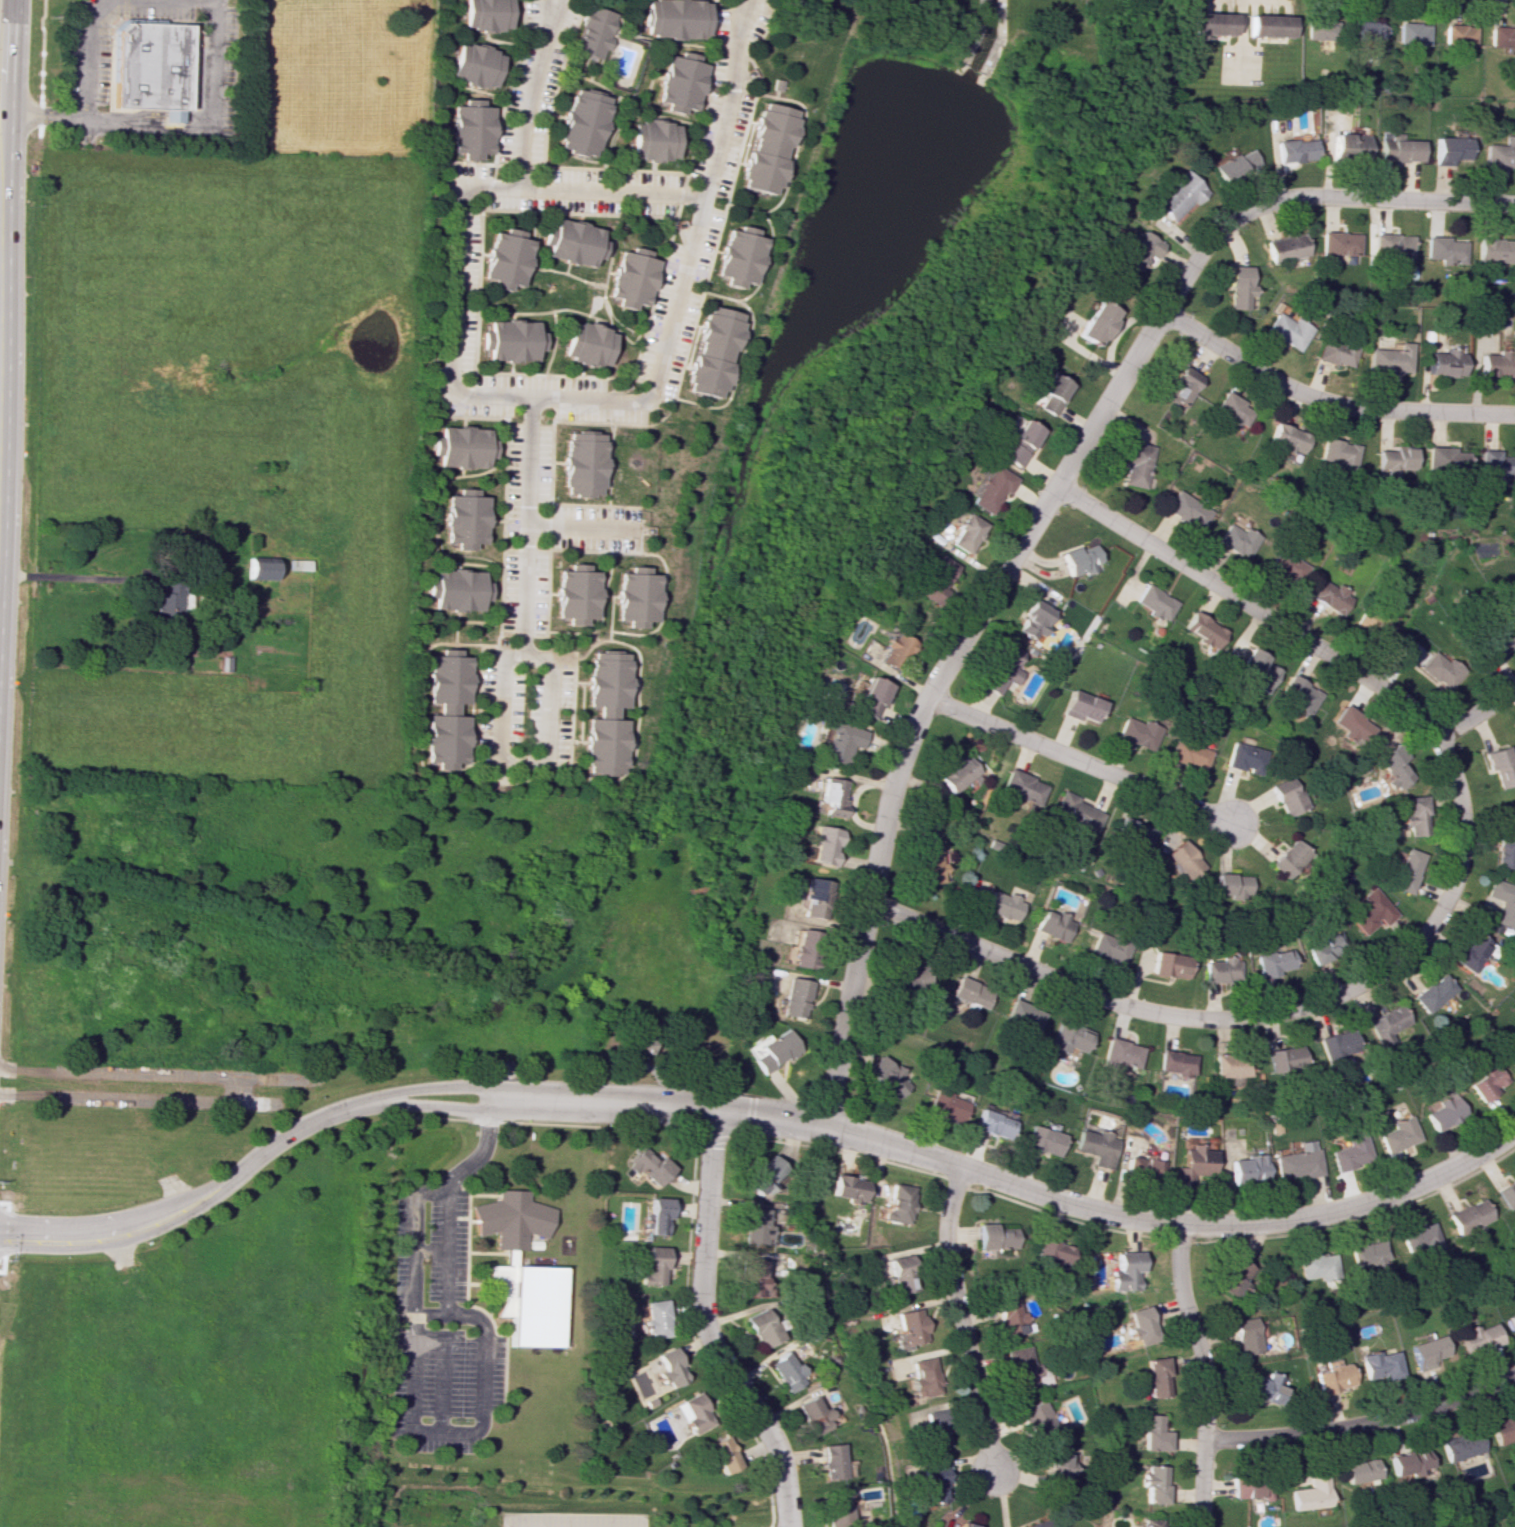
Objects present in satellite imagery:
road: (551, 3)
road: (744, 4)
parking lot: (159, 9)
building: (483, 13)
building: (672, 18)
parking lot: (228, 25)
building: (1209, 28)
building: (1267, 29)
building: (1318, 32)
building: (588, 33)
building: (1366, 35)
building: (998, 36)
building: (1415, 37)
building: (1458, 37)
building: (1500, 39)
parking lot: (88, 54)
building: (472, 65)
building: (150, 67)
road: (40, 69)
parking lot: (227, 70)
parking lot: (532, 78)
building: (678, 83)
dam: (978, 83)
road: (530, 92)
road: (729, 97)
parking lot: (225, 112)
road: (42, 118)
building: (577, 123)
road: (1, 124)
road: (149, 128)
building: (468, 131)
building: (650, 140)
building: (1342, 143)
building: (765, 148)
building: (1288, 148)
building: (1395, 149)
building: (1447, 150)
building: (1500, 154)
road: (2, 161)
building: (1234, 165)
parking lot: (701, 199)
road: (1388, 199)
building: (1173, 201)
building: (571, 241)
building: (1335, 245)
building: (1389, 245)
building: (1440, 246)
building: (1490, 246)
building: (1280, 249)
building: (1134, 253)
building: (737, 256)
building: (503, 259)
building: (630, 279)
building: (1237, 287)
building: (1092, 324)
building: (1284, 331)
building: (508, 340)
building: (584, 345)
building: (711, 352)
building: (1331, 352)
building: (1379, 360)
building: (1438, 363)
building: (1493, 365)
road: (451, 368)
building: (1178, 389)
building: (1051, 398)
road: (1327, 403)
building: (1228, 411)
building: (1015, 440)
building: (1284, 440)
parking lot: (526, 443)
building: (460, 447)
building: (1335, 452)
building: (1445, 455)
building: (1389, 456)
building: (1494, 462)
building: (579, 463)
building: (1138, 464)
building: (991, 488)
building: (1186, 509)
building: (461, 519)
road: (575, 526)
building: (965, 532)
building: (1236, 540)
building: (1081, 559)
building: (298, 564)
building: (259, 568)
building: (1290, 571)
building: (935, 575)
building: (454, 591)
building: (570, 593)
building: (629, 594)
building: (1330, 596)
building: (1154, 602)
building: (167, 607)
building: (1513, 609)
building: (1034, 619)
building: (1376, 621)
building: (1202, 629)
road: (968, 630)
building: (1494, 645)
building: (884, 648)
road: (540, 658)
road: (1343, 662)
building: (1003, 668)
building: (1257, 671)
building: (1441, 671)
building: (1297, 694)
building: (866, 696)
building: (1082, 706)
parking lot: (523, 709)
building: (443, 710)
building: (601, 712)
road: (1475, 714)
building: (1351, 724)
building: (1138, 732)
building: (842, 740)
building: (1187, 753)
building: (1244, 758)
road: (1080, 763)
building: (1500, 766)
building: (1391, 768)
building: (956, 773)
building: (1022, 787)
building: (1286, 796)
building: (830, 797)
building: (1076, 813)
building: (1415, 815)
building: (1128, 830)
building: (821, 845)
building: (1506, 847)
building: (1289, 858)
building: (1183, 859)
building: (931, 865)
building: (1407, 871)
building: (1230, 885)
building: (809, 895)
building: (1503, 902)
building: (1002, 905)
building: (1371, 911)
building: (1324, 947)
building: (800, 948)
building: (1111, 949)
building: (1471, 952)
building: (1274, 962)
building: (1170, 965)
building: (1221, 969)
road: (1030, 970)
building: (910, 977)
building: (970, 992)
building: (1433, 993)
building: (794, 998)
road: (1319, 1004)
building: (1022, 1016)
building: (1387, 1022)
building: (1068, 1037)
building: (1337, 1045)
building: (753, 1049)
building: (774, 1050)
building: (1120, 1053)
building: (1512, 1058)
building: (1285, 1059)
building: (1175, 1062)
building: (1230, 1065)
building: (886, 1077)
building: (1487, 1082)
road: (542, 1094)
building: (946, 1105)
road: (542, 1110)
building: (1444, 1111)
building: (992, 1124)
building: (1399, 1134)
building: (1042, 1140)
road: (484, 1145)
building: (1095, 1147)
building: (1349, 1155)
building: (1194, 1162)
building: (1298, 1162)
road: (946, 1164)
building: (648, 1166)
building: (1143, 1166)
building: (1247, 1168)
building: (765, 1173)
building: (847, 1188)
road: (194, 1191)
building: (1507, 1194)
road: (429, 1195)
road: (1355, 1207)
building: (657, 1216)
building: (1469, 1216)
building: (755, 1226)
building: (994, 1237)
building: (1420, 1239)
building: (1051, 1252)
building: (1369, 1253)
building: (654, 1266)
building: (1318, 1266)
building: (520, 1270)
building: (1125, 1271)
building: (750, 1277)
building: (1233, 1277)
road: (410, 1312)
road: (459, 1315)
building: (1009, 1315)
building: (656, 1318)
road: (959, 1318)
building: (1511, 1321)
building: (1140, 1325)
parking lot: (437, 1327)
road: (704, 1328)
building: (762, 1328)
building: (909, 1328)
road: (426, 1332)
building: (1245, 1336)
building: (1478, 1337)
building: (1427, 1350)
building: (1378, 1365)
building: (670, 1367)
building: (1020, 1368)
building: (786, 1371)
road: (1202, 1374)
building: (1332, 1376)
building: (925, 1377)
building: (1155, 1377)
road: (441, 1382)
building: (1263, 1386)
building: (694, 1413)
building: (813, 1415)
building: (1036, 1419)
road: (1363, 1425)
building: (935, 1428)
building: (1502, 1429)
road: (437, 1431)
building: (1152, 1433)
building: (723, 1454)
building: (831, 1461)
building: (1408, 1462)
building: (1058, 1468)
building: (1359, 1470)
building: (933, 1484)
building: (1153, 1484)
building: (1249, 1489)
road: (768, 1490)
building: (1311, 1492)
building: (838, 1510)
parking lot: (570, 1519)
building: (1151, 1523)
building: (964, 1525)
building: (1030, 1525)
building: (1052, 1525)

